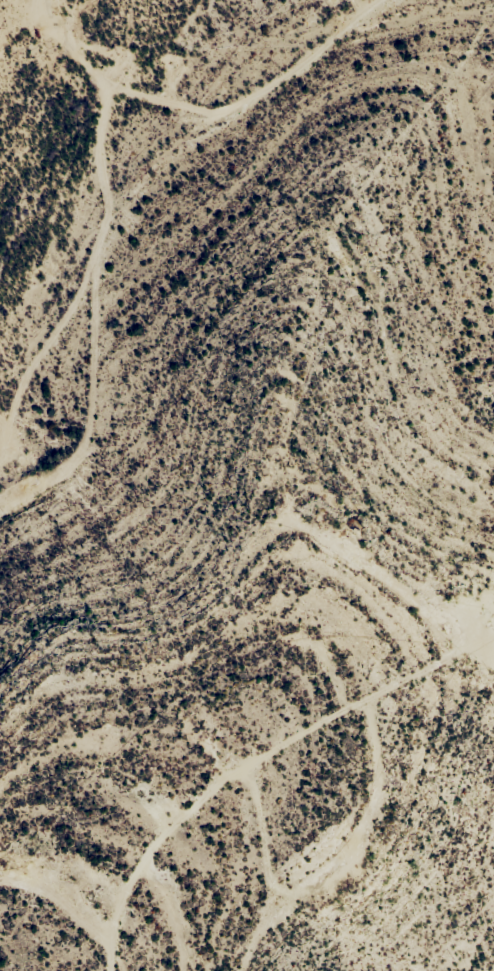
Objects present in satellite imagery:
road: (245, 753)

